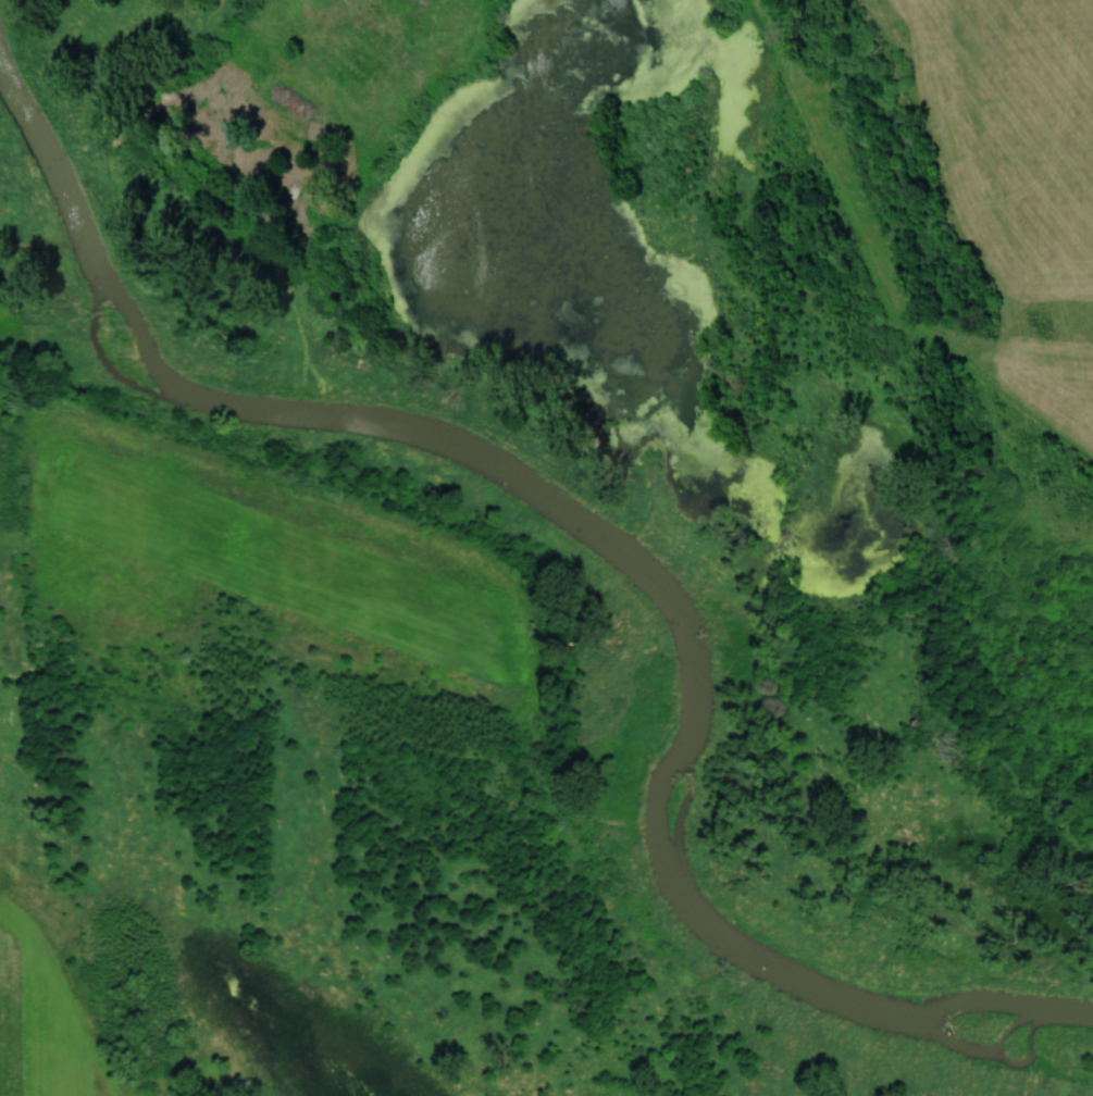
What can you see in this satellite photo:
river: (593, 538)

